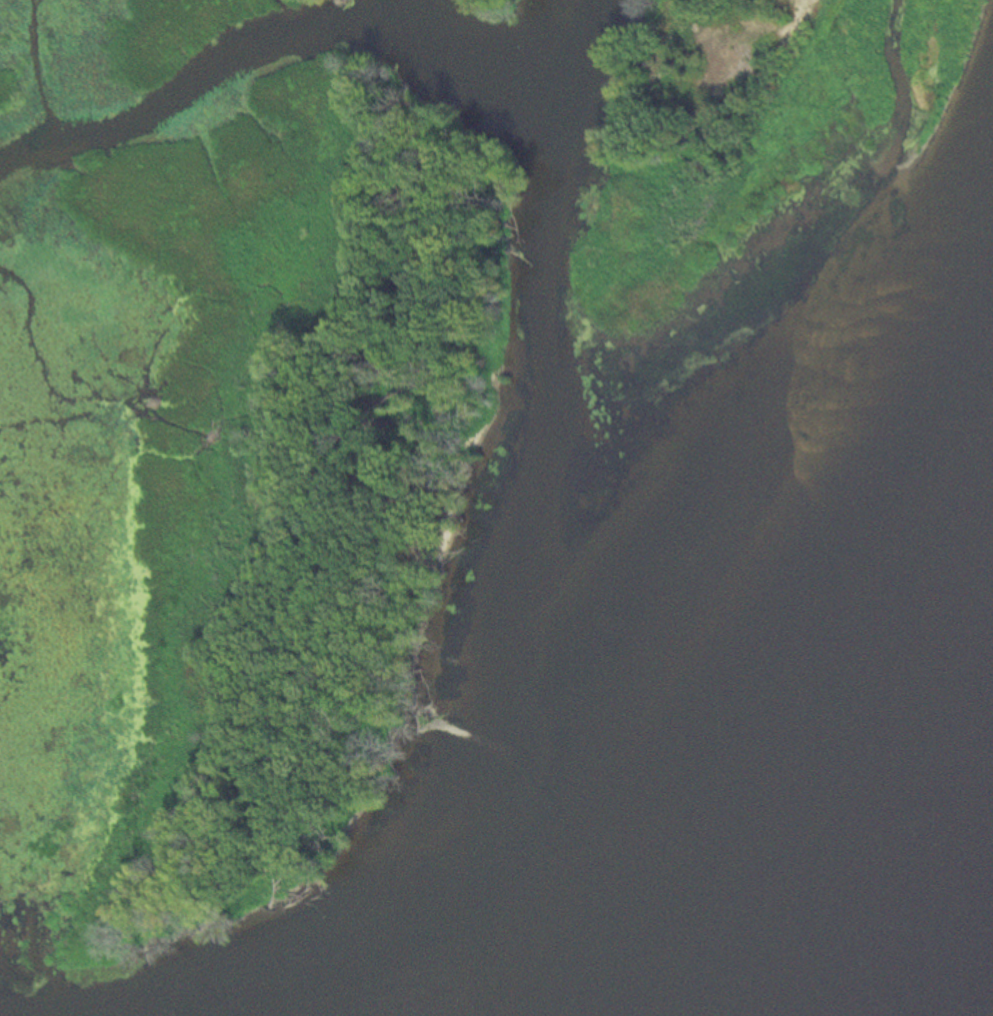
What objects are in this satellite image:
river: (949, 914)

